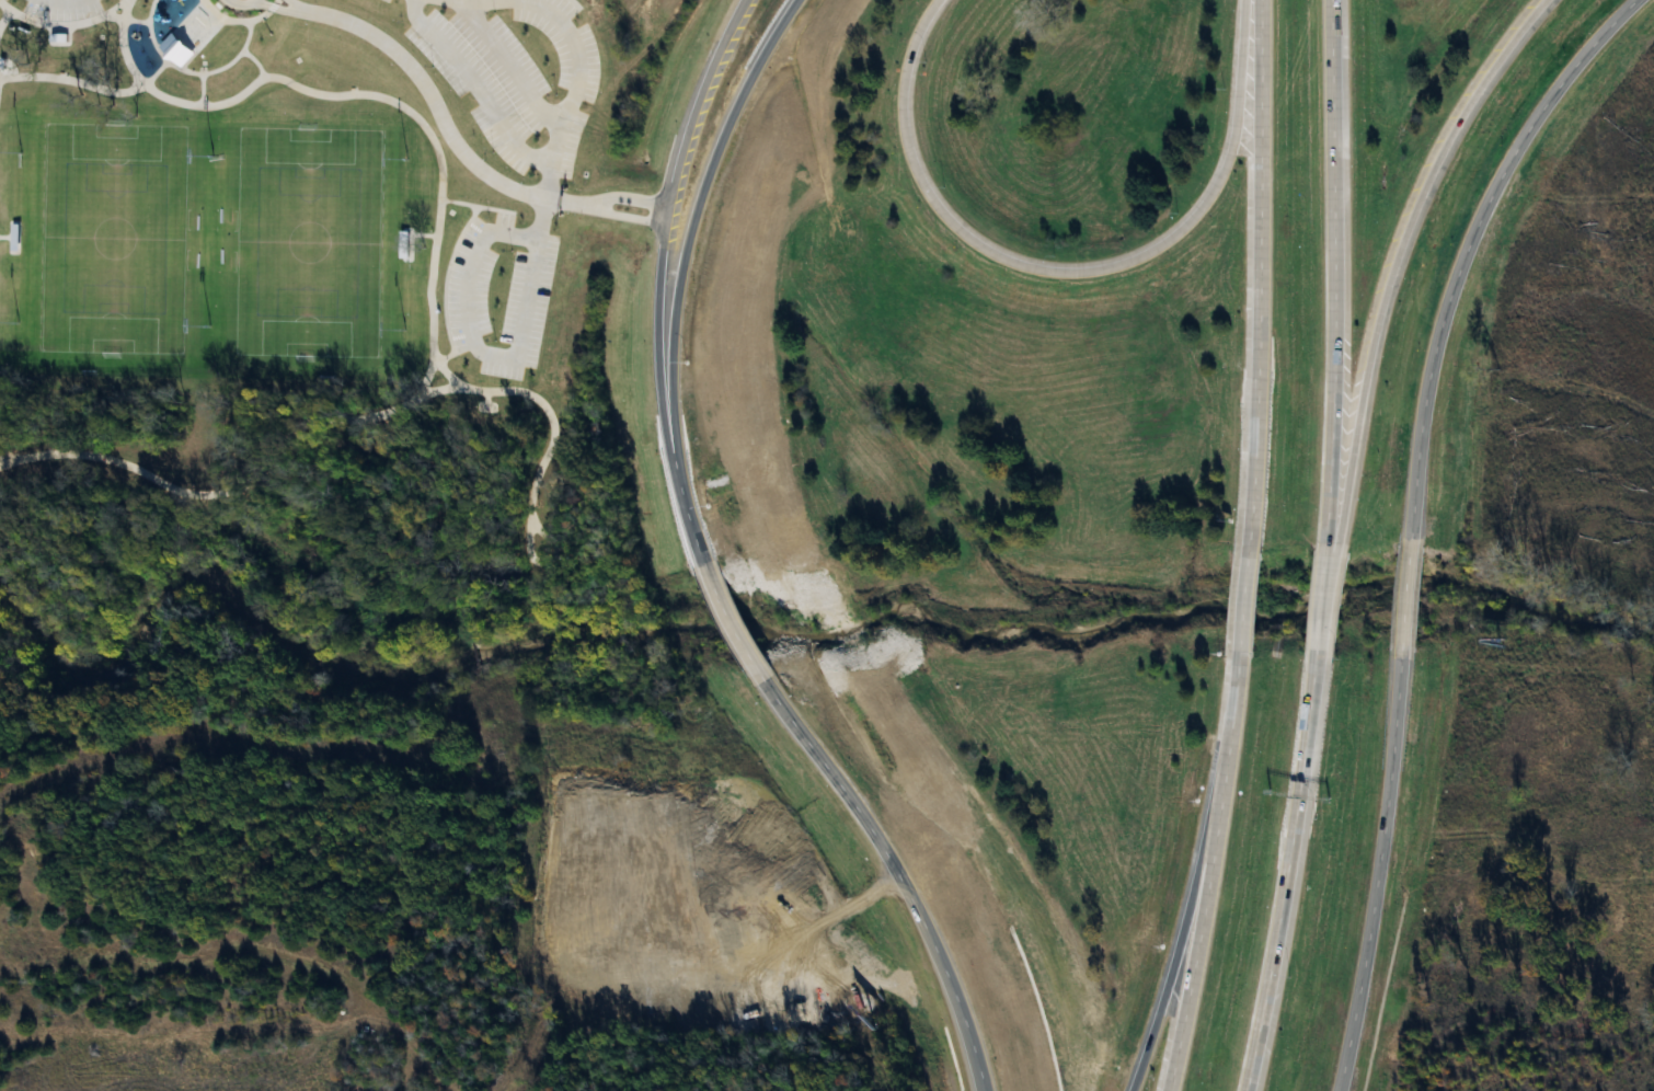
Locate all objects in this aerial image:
road: (240, 2)
road: (268, 3)
road: (289, 4)
road: (4, 13)
road: (124, 16)
road: (239, 19)
road: (1615, 22)
road: (59, 23)
building: (187, 33)
road: (254, 59)
road: (508, 62)
road: (187, 70)
road: (88, 82)
road: (473, 84)
road: (199, 87)
road: (371, 92)
road: (565, 107)
road: (437, 110)
road: (629, 198)
road: (628, 214)
road: (693, 226)
park: (114, 242)
park: (308, 245)
road: (1397, 253)
road: (1065, 269)
road: (1260, 271)
road: (1331, 272)
road: (1458, 275)
road: (663, 276)
park: (351, 287)
road: (470, 344)
road: (422, 379)
road: (317, 417)
road: (8, 453)
road: (544, 559)
road: (1329, 578)
road: (1405, 599)
road: (1243, 601)
road: (1321, 601)
road: (726, 615)
road: (892, 864)
road: (1285, 875)
road: (1382, 876)
road: (1213, 877)
road: (1176, 954)

